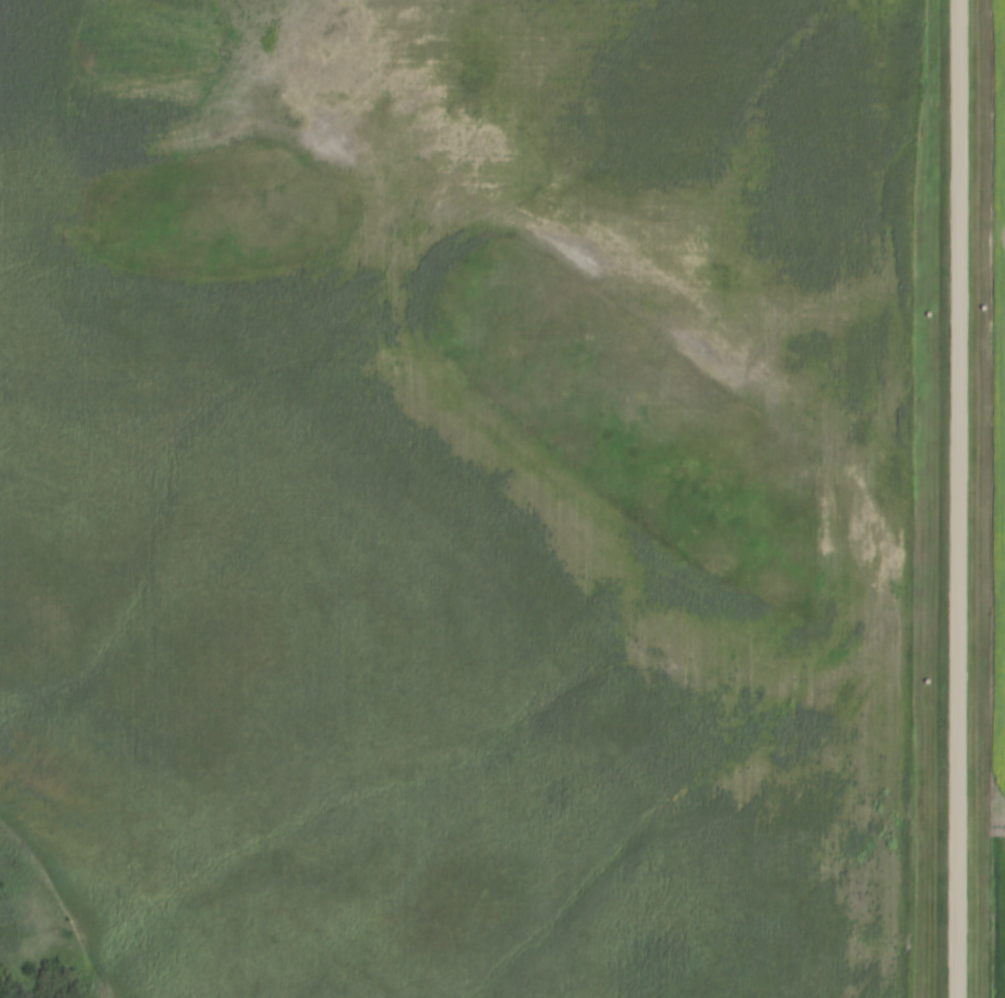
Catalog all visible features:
road: (955, 498)

